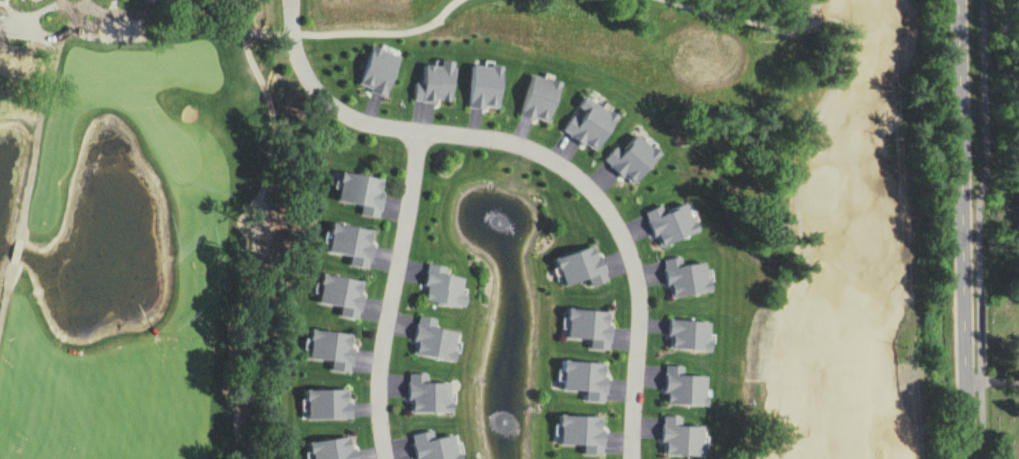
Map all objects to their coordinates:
building: (380, 72)
building: (436, 83)
building: (485, 86)
building: (540, 98)
road: (321, 99)
building: (591, 123)
building: (633, 159)
building: (362, 193)
building: (673, 224)
road: (962, 229)
park: (446, 230)
road: (617, 232)
building: (352, 244)
building: (583, 267)
building: (688, 278)
building: (444, 287)
building: (341, 294)
road: (393, 295)
building: (590, 328)
building: (690, 336)
building: (434, 340)
building: (332, 349)
road: (992, 379)
building: (586, 380)
building: (684, 387)
building: (429, 395)
park: (1004, 403)
building: (328, 405)
building: (582, 433)
building: (682, 438)
building: (434, 446)
building: (333, 449)

